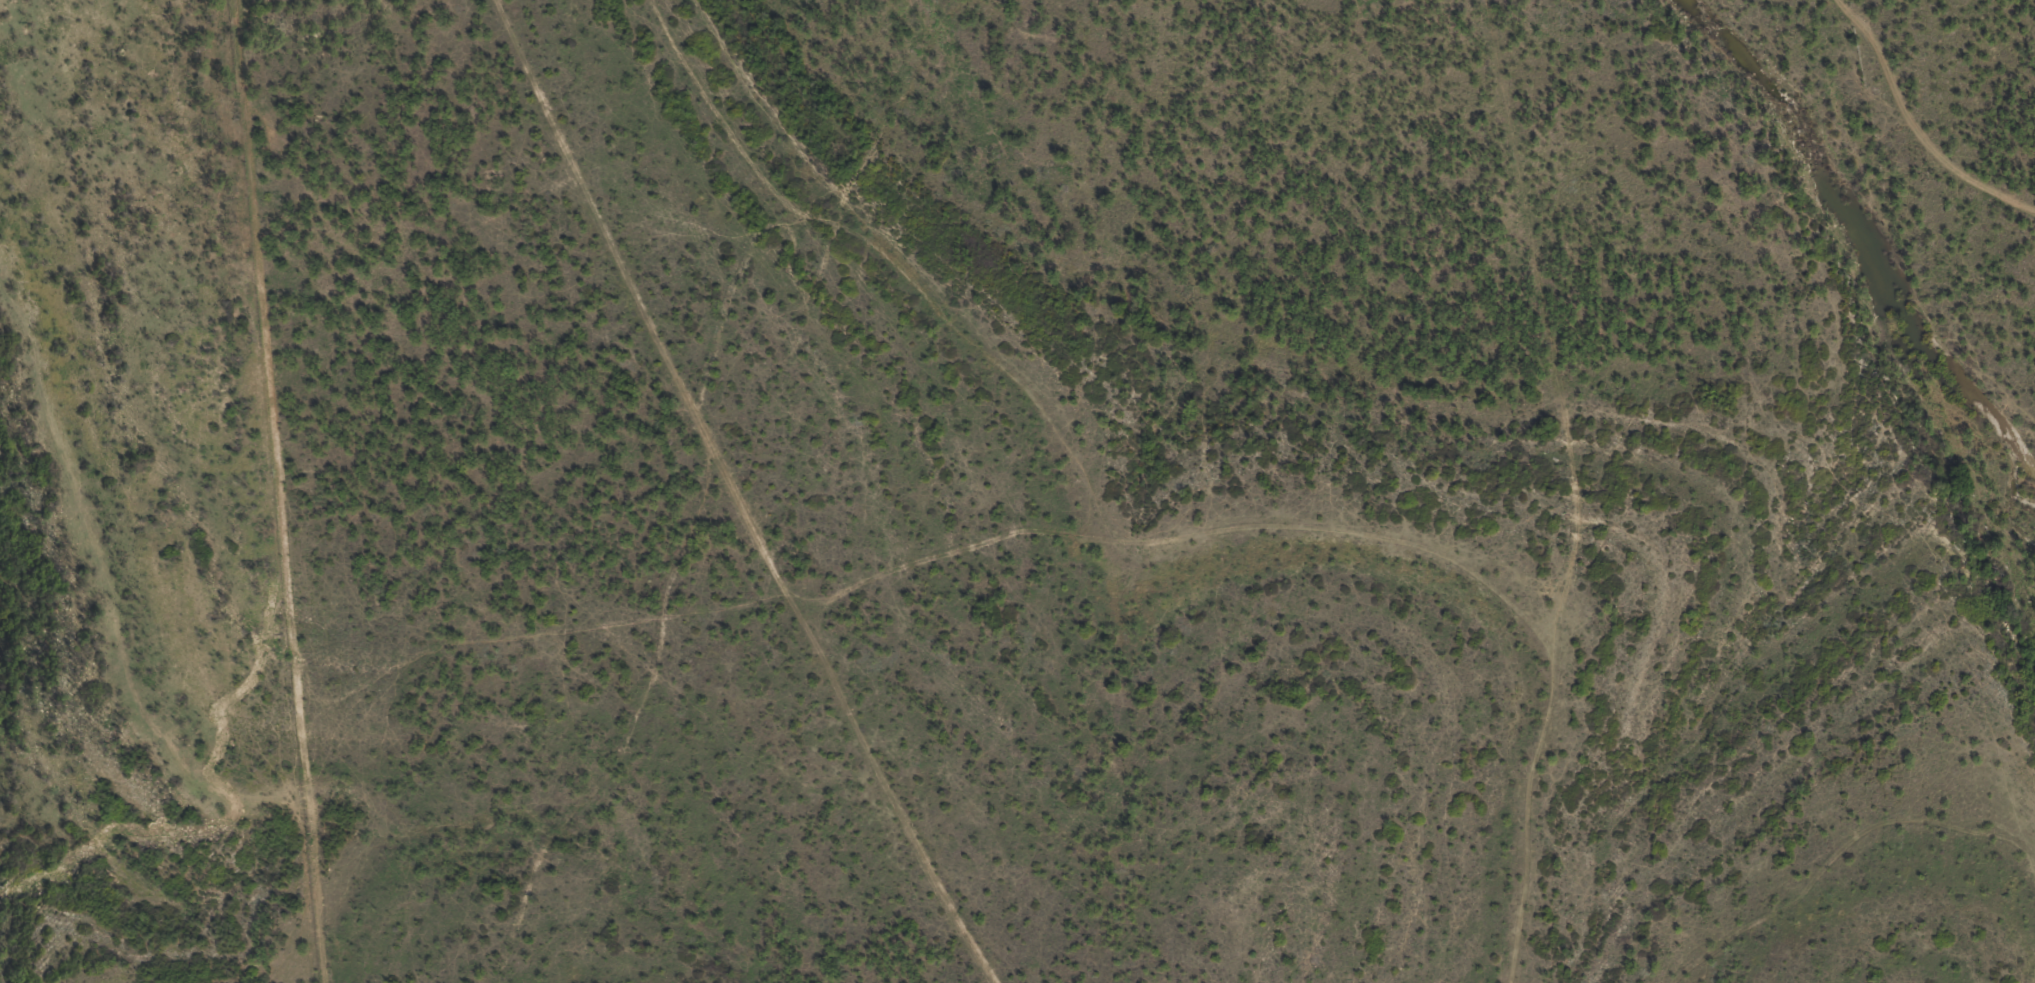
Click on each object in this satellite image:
road: (1904, 120)
road: (721, 493)

